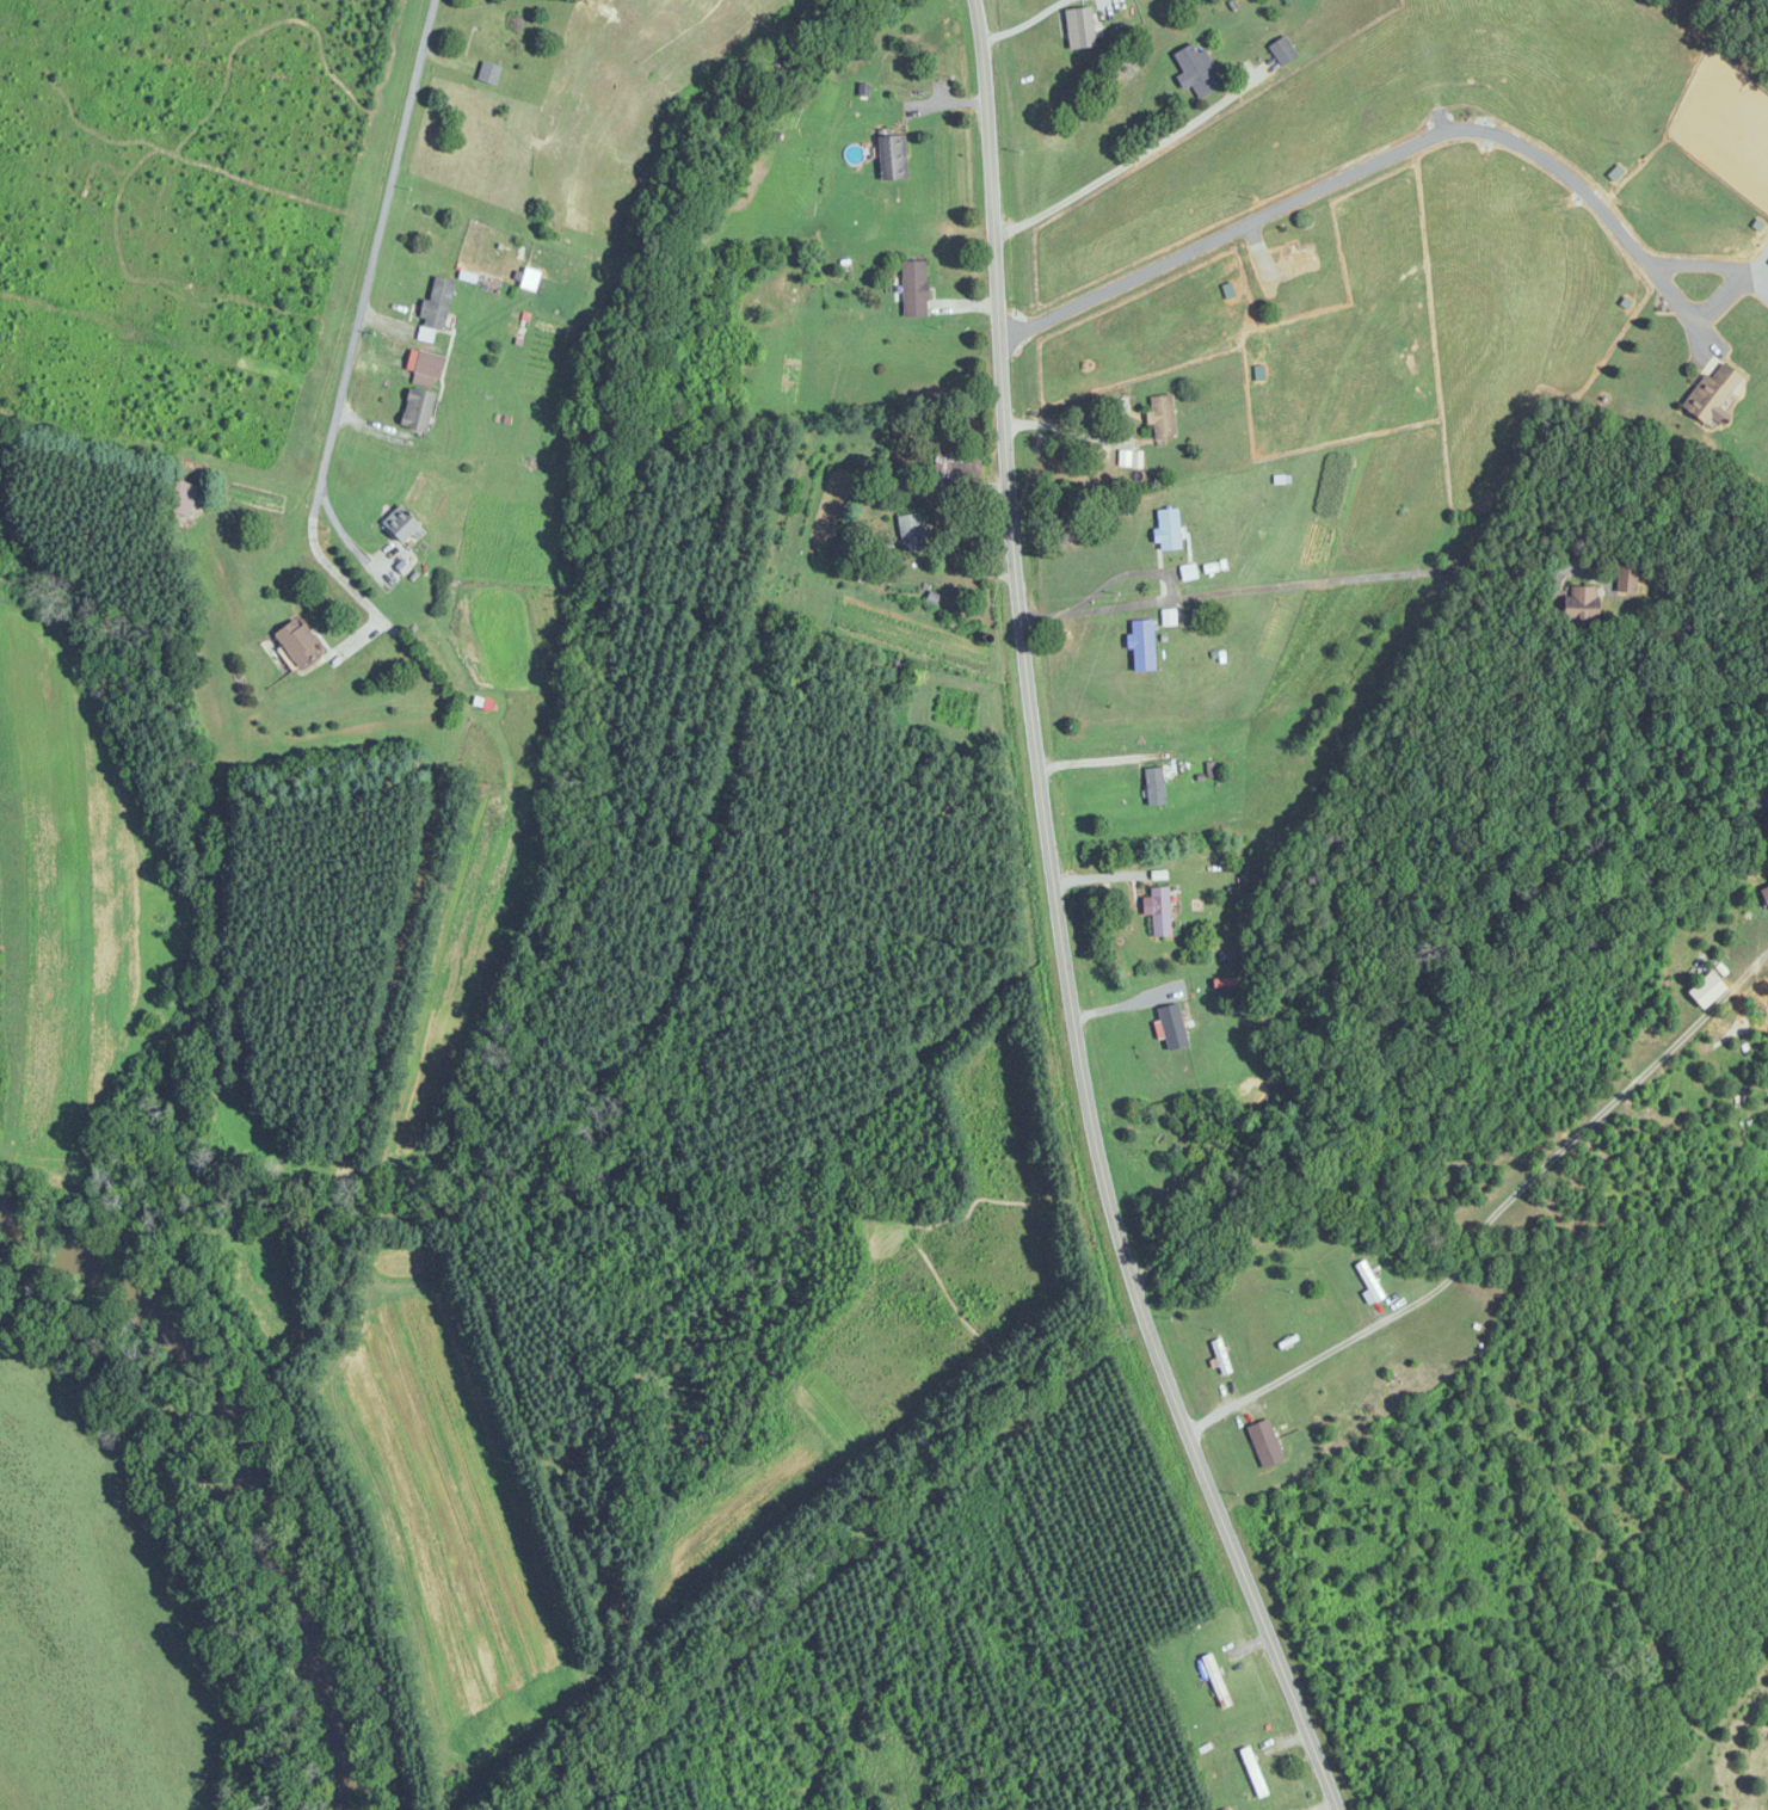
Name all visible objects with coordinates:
building: (1082, 27)
building: (495, 33)
building: (1285, 50)
building: (1197, 69)
building: (489, 72)
building: (790, 116)
building: (893, 156)
road: (1123, 170)
road: (1607, 214)
road: (1225, 222)
building: (1301, 260)
road: (374, 261)
building: (916, 288)
building: (438, 303)
building: (423, 388)
building: (1713, 393)
building: (1164, 415)
road: (1065, 427)
building: (956, 466)
building: (185, 491)
building: (404, 523)
building: (1170, 529)
building: (910, 532)
road: (345, 535)
road: (1126, 572)
road: (339, 575)
building: (1627, 579)
road: (1290, 583)
building: (1584, 604)
building: (300, 641)
building: (1145, 644)
building: (1156, 786)
building: (1764, 897)
building: (1162, 911)
road: (1062, 925)
building: (1710, 990)
building: (1175, 1027)
road: (1584, 1113)
building: (1370, 1281)
road: (1296, 1354)
building: (1220, 1356)
building: (1265, 1443)
river: (222, 1491)
building: (1253, 1773)

